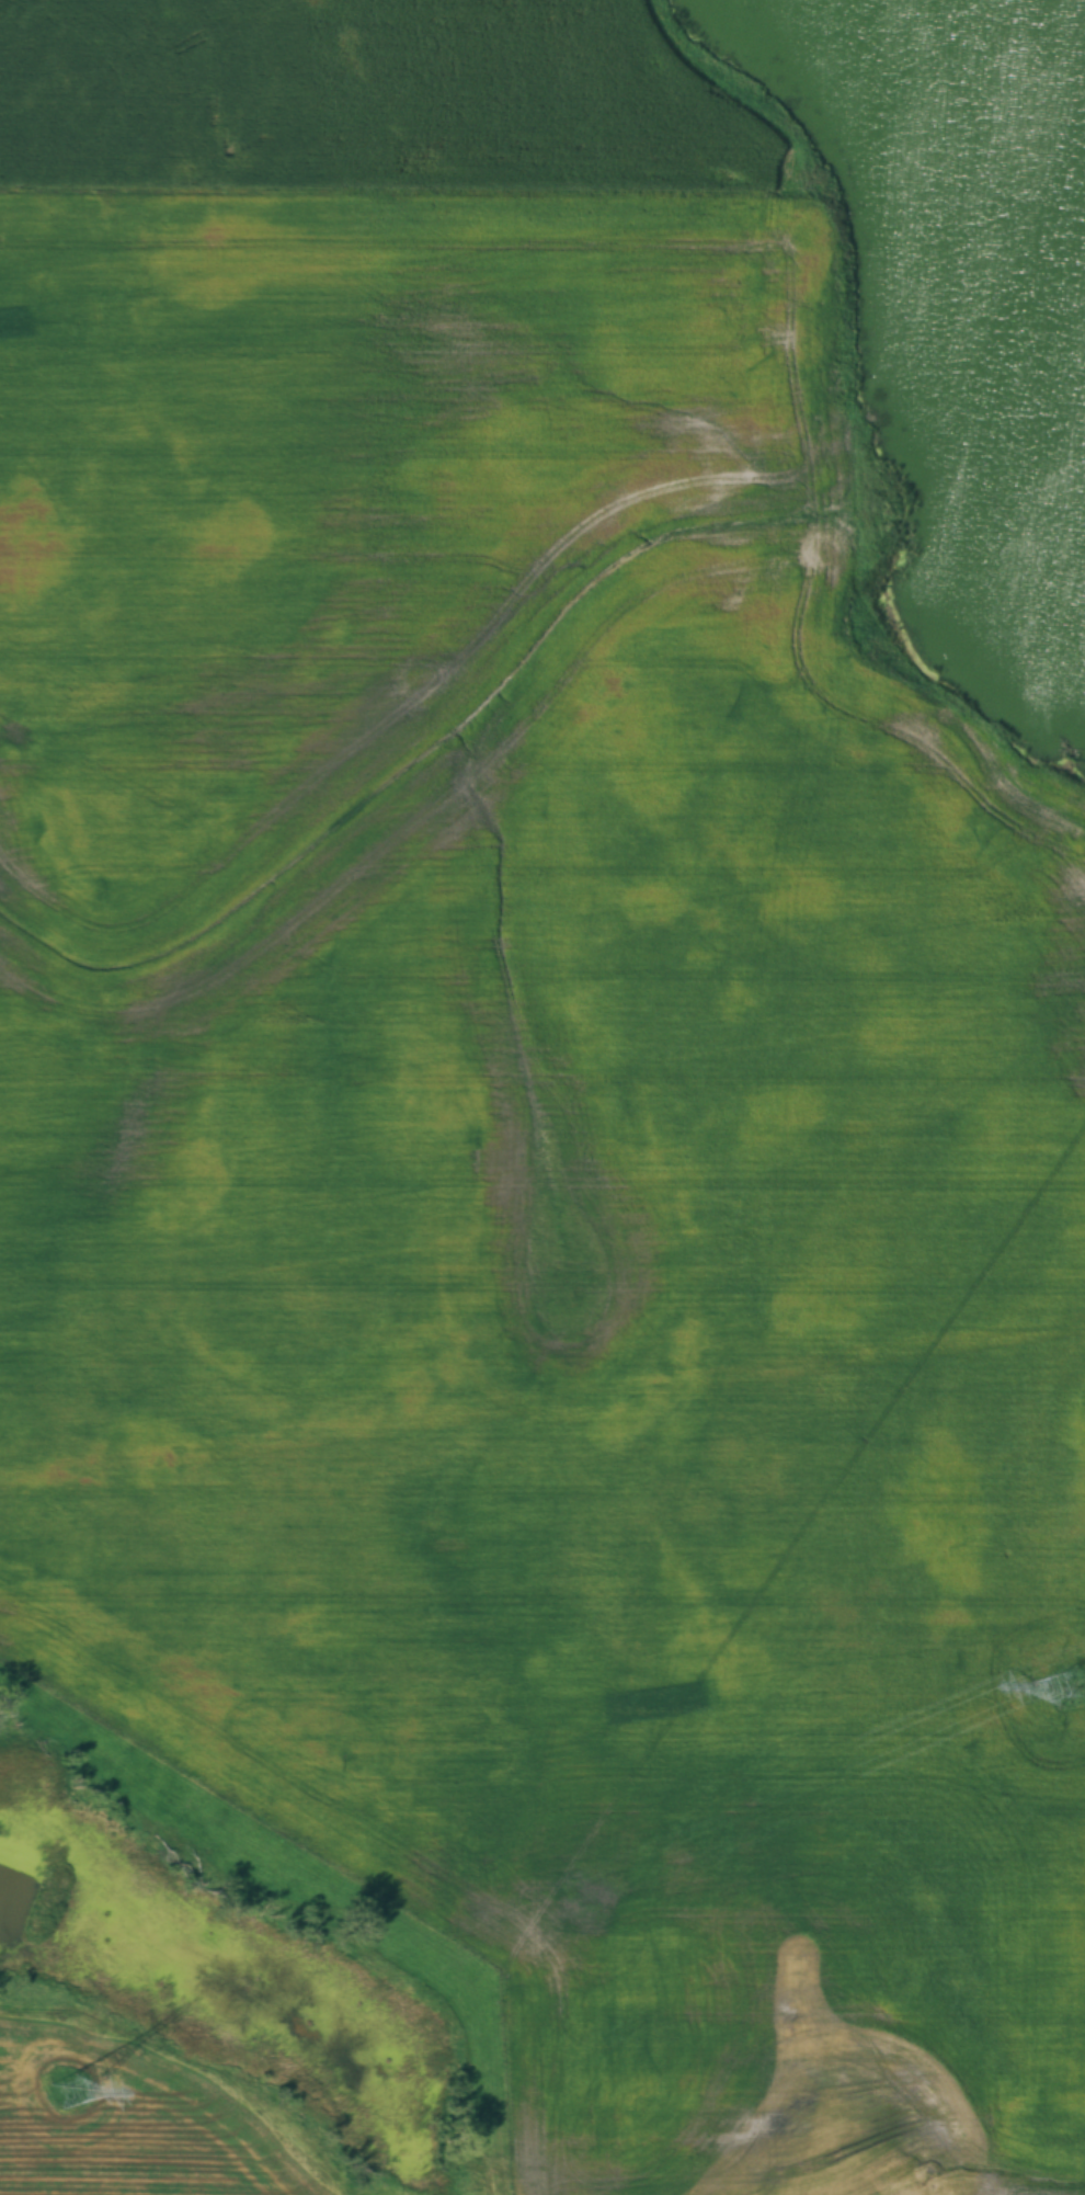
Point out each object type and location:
power tower: (1066, 1688)
power tower: (68, 2091)

